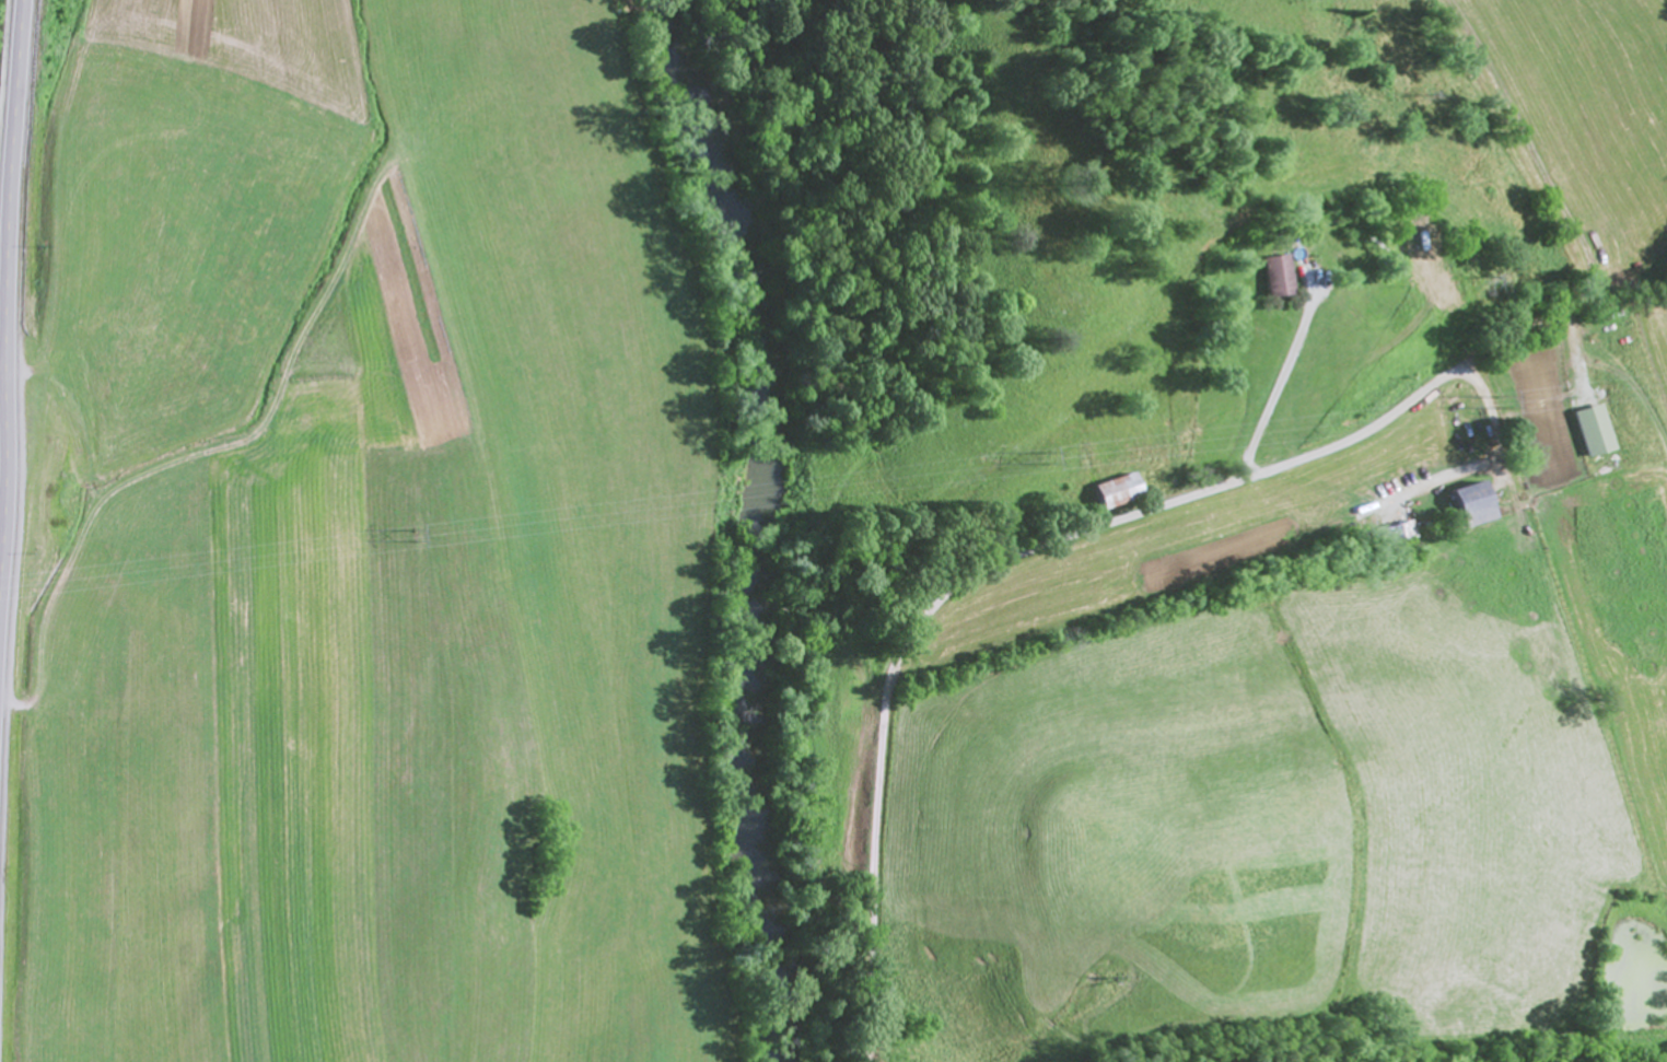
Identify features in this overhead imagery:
road: (9, 258)
building: (1278, 279)
road: (3, 294)
building: (1598, 434)
building: (1124, 493)
building: (1481, 507)
river: (750, 524)
road: (988, 571)

